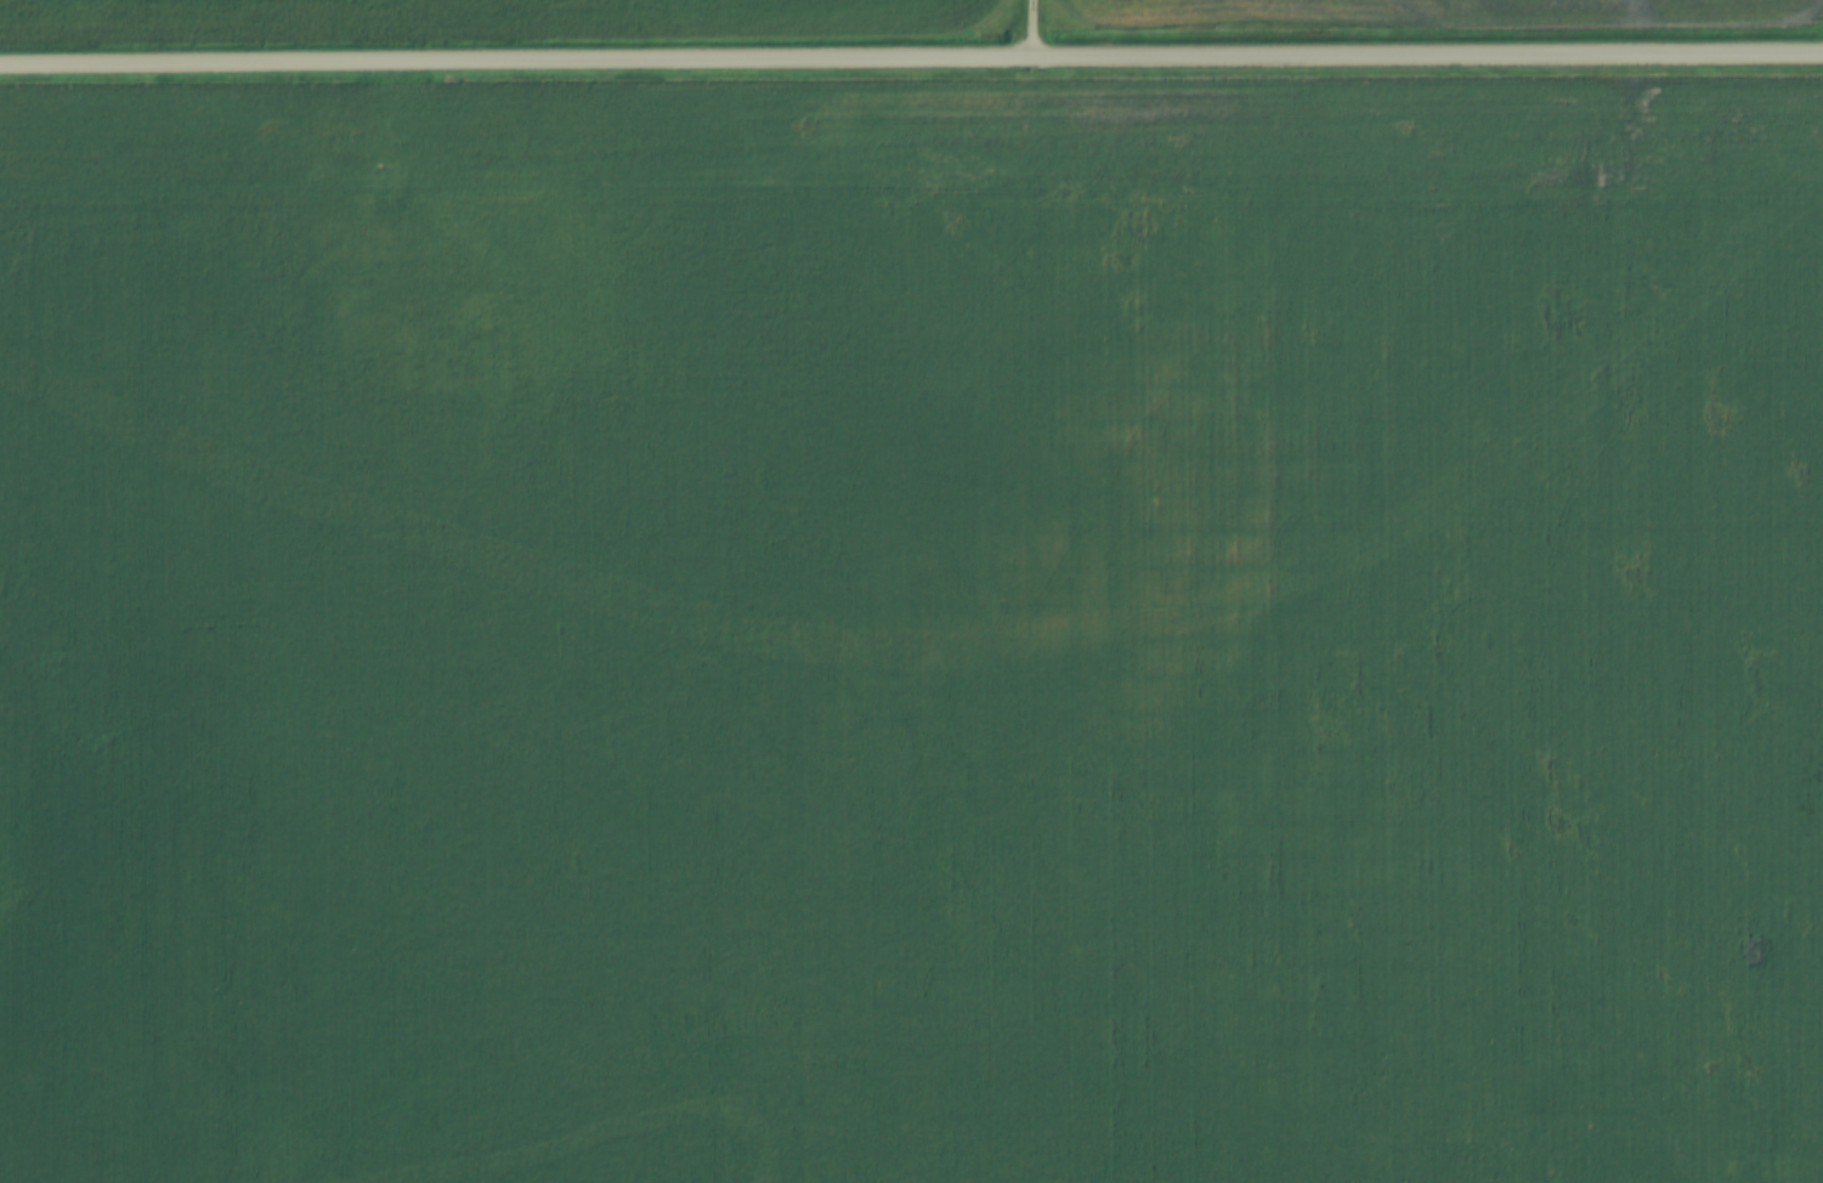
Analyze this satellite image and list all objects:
road: (1035, 27)
road: (911, 55)

